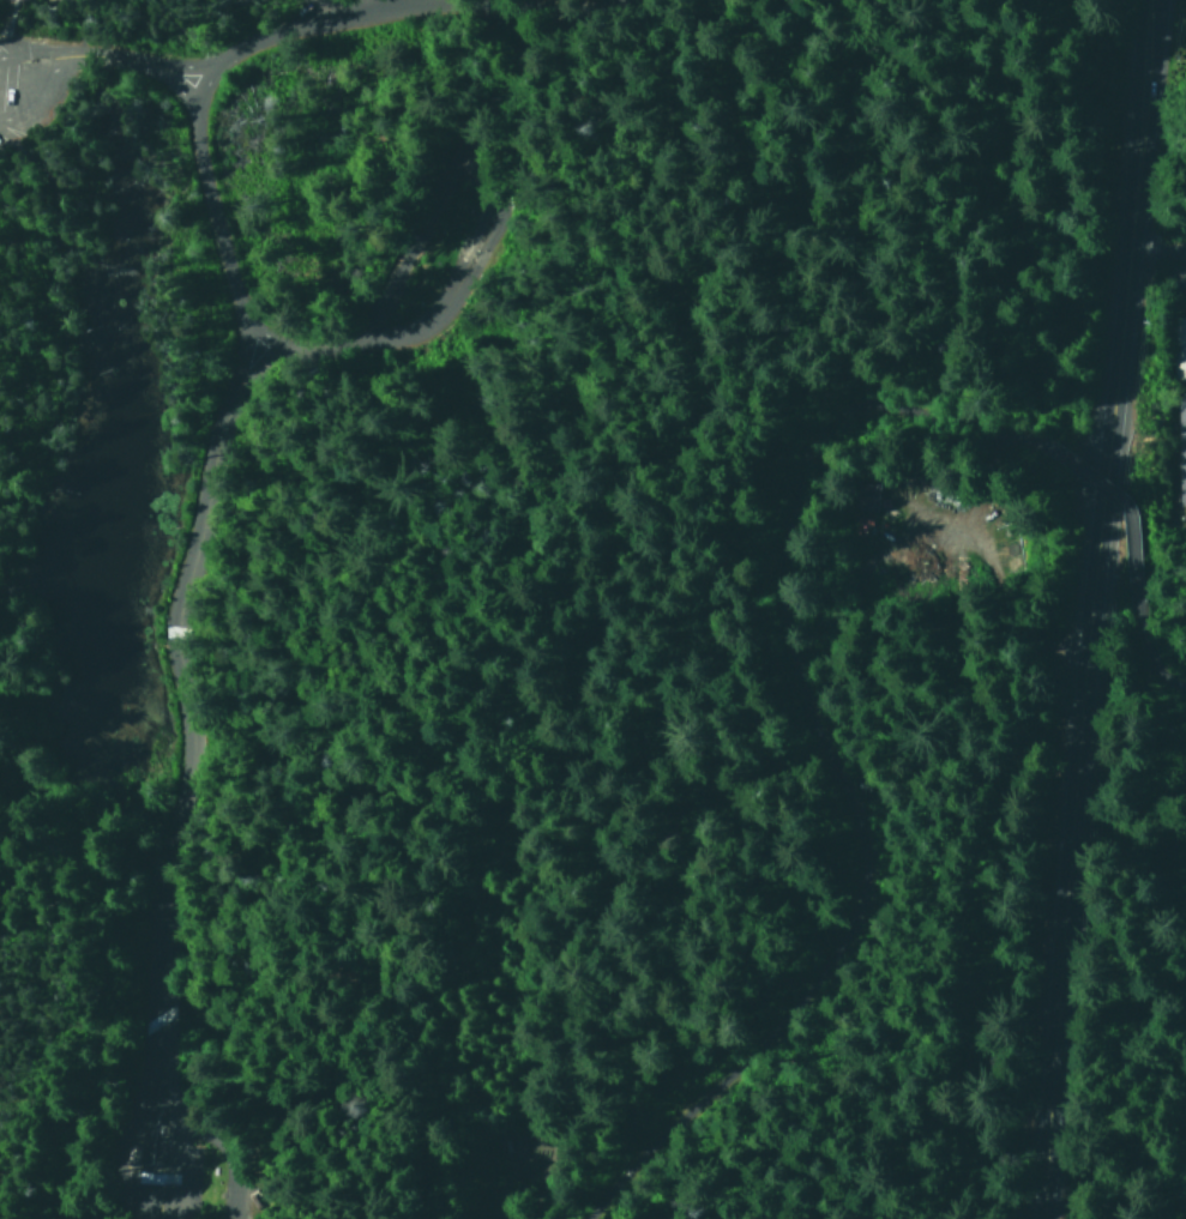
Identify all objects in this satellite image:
road: (73, 8)
road: (8, 16)
parking lot: (311, 16)
road: (295, 37)
road: (107, 65)
road: (31, 67)
parking lot: (18, 87)
road: (639, 197)
road: (218, 213)
road: (452, 230)
road: (528, 268)
building: (1178, 346)
road: (53, 355)
building: (1180, 447)
road: (1078, 481)
building: (862, 496)
road: (1088, 609)
road: (1140, 614)
road: (812, 737)
road: (138, 778)
road: (65, 802)
road: (245, 1058)
road: (247, 1114)
toll booth: (174, 1169)
parking lot: (227, 1170)

